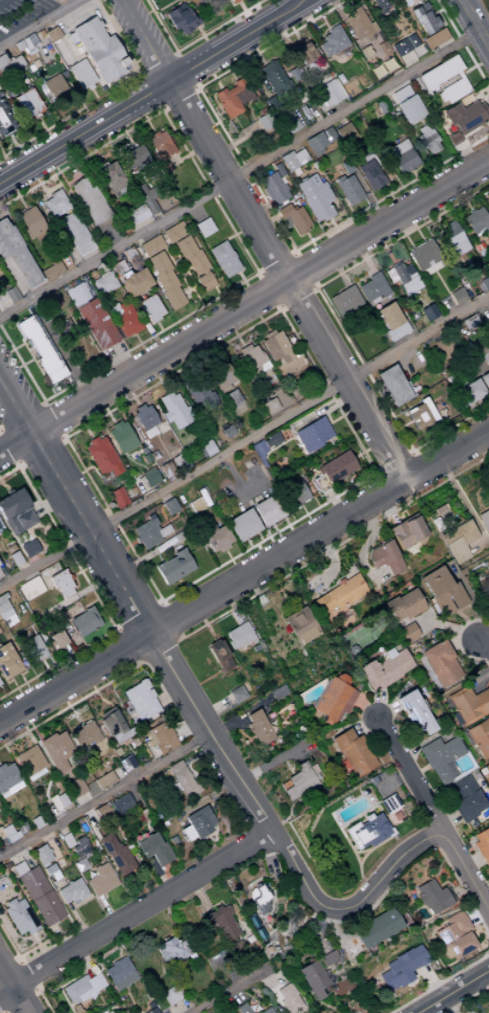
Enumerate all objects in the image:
building: (57, 0)
building: (232, 1)
road: (463, 1)
road: (4, 2)
road: (236, 2)
building: (407, 2)
building: (380, 3)
road: (486, 3)
road: (488, 3)
building: (423, 7)
road: (335, 9)
parking lot: (19, 12)
building: (179, 19)
building: (423, 19)
road: (287, 22)
road: (323, 22)
building: (358, 22)
road: (41, 23)
road: (309, 23)
road: (474, 24)
road: (199, 31)
road: (281, 33)
building: (51, 34)
road: (295, 35)
building: (434, 39)
road: (143, 40)
road: (236, 40)
road: (192, 41)
building: (332, 41)
building: (28, 42)
road: (462, 45)
building: (17, 46)
building: (407, 50)
building: (99, 51)
building: (302, 51)
road: (175, 52)
road: (259, 59)
road: (155, 63)
road: (481, 63)
building: (9, 65)
road: (208, 69)
road: (467, 69)
building: (14, 73)
building: (79, 74)
building: (293, 74)
building: (273, 77)
building: (445, 79)
road: (20, 83)
road: (216, 83)
building: (88, 87)
building: (51, 89)
road: (148, 92)
building: (0, 94)
road: (93, 94)
building: (401, 94)
building: (327, 95)
building: (231, 97)
road: (178, 98)
road: (78, 99)
building: (27, 104)
road: (487, 106)
building: (381, 107)
building: (409, 109)
road: (140, 111)
building: (465, 116)
road: (221, 119)
building: (6, 121)
building: (264, 121)
building: (290, 123)
road: (148, 126)
road: (207, 127)
road: (83, 131)
building: (327, 133)
building: (344, 133)
road: (466, 135)
building: (428, 139)
road: (12, 141)
road: (235, 142)
building: (315, 144)
road: (89, 145)
building: (158, 145)
road: (461, 152)
road: (187, 154)
building: (402, 156)
building: (133, 158)
building: (293, 159)
road: (434, 159)
road: (52, 163)
building: (163, 168)
building: (346, 168)
building: (278, 169)
road: (244, 170)
building: (371, 174)
road: (413, 174)
road: (443, 174)
road: (33, 175)
building: (109, 176)
road: (61, 178)
building: (338, 179)
road: (12, 187)
building: (273, 188)
road: (421, 188)
road: (386, 189)
building: (349, 190)
road: (43, 191)
road: (259, 192)
building: (315, 198)
building: (145, 199)
building: (87, 200)
road: (437, 202)
road: (21, 203)
building: (54, 203)
road: (394, 203)
road: (467, 205)
road: (430, 207)
road: (349, 209)
road: (373, 209)
road: (423, 211)
building: (135, 215)
building: (294, 218)
road: (410, 219)
road: (331, 222)
road: (439, 222)
building: (477, 222)
road: (264, 223)
road: (399, 225)
building: (33, 227)
building: (204, 227)
road: (244, 230)
building: (174, 232)
building: (75, 233)
road: (419, 234)
road: (109, 235)
road: (308, 236)
road: (339, 236)
road: (378, 238)
building: (453, 238)
road: (163, 240)
road: (408, 241)
building: (151, 246)
building: (482, 253)
building: (129, 254)
road: (247, 255)
building: (423, 255)
building: (16, 256)
road: (234, 256)
road: (363, 256)
road: (389, 256)
road: (73, 259)
building: (223, 259)
road: (319, 260)
building: (194, 262)
road: (276, 262)
road: (182, 265)
road: (97, 268)
building: (431, 268)
building: (117, 269)
road: (176, 269)
road: (305, 269)
building: (51, 270)
road: (337, 270)
building: (390, 275)
road: (81, 276)
road: (15, 279)
building: (405, 279)
building: (165, 280)
road: (287, 280)
building: (133, 282)
building: (485, 282)
building: (103, 283)
building: (373, 289)
road: (397, 289)
road: (445, 289)
road: (216, 290)
road: (249, 291)
road: (268, 291)
building: (79, 292)
building: (414, 293)
building: (11, 294)
building: (457, 296)
road: (197, 298)
road: (298, 299)
building: (51, 301)
building: (345, 301)
road: (486, 302)
road: (4, 306)
building: (151, 308)
road: (448, 308)
road: (279, 310)
road: (255, 311)
building: (428, 312)
building: (388, 316)
building: (124, 318)
road: (335, 321)
building: (470, 322)
building: (97, 323)
road: (158, 326)
road: (230, 326)
road: (264, 326)
road: (150, 331)
building: (397, 331)
building: (268, 334)
road: (137, 339)
road: (239, 341)
building: (37, 344)
road: (18, 346)
building: (277, 348)
building: (243, 349)
road: (6, 352)
road: (145, 352)
road: (29, 354)
building: (486, 358)
building: (252, 361)
road: (69, 366)
road: (135, 370)
road: (11, 371)
road: (155, 371)
building: (53, 375)
building: (219, 375)
building: (485, 380)
building: (393, 386)
road: (483, 386)
road: (164, 387)
road: (127, 388)
building: (224, 389)
road: (51, 390)
building: (469, 393)
building: (199, 394)
road: (383, 396)
building: (232, 399)
road: (135, 401)
road: (386, 401)
road: (76, 405)
building: (270, 406)
building: (238, 409)
building: (174, 410)
road: (320, 410)
road: (351, 410)
road: (324, 412)
road: (21, 415)
building: (421, 415)
road: (79, 417)
building: (144, 417)
road: (54, 419)
road: (328, 420)
road: (334, 420)
road: (245, 421)
road: (405, 425)
building: (226, 431)
building: (149, 432)
road: (88, 433)
building: (312, 435)
building: (121, 437)
building: (273, 439)
road: (295, 440)
road: (244, 441)
road: (15, 443)
building: (266, 443)
road: (372, 446)
building: (207, 448)
road: (274, 448)
building: (258, 449)
road: (8, 452)
road: (41, 453)
road: (480, 454)
building: (100, 455)
road: (357, 455)
road: (351, 457)
building: (180, 462)
road: (393, 462)
building: (335, 467)
road: (88, 468)
building: (166, 470)
road: (233, 474)
road: (72, 478)
building: (149, 478)
building: (319, 484)
road: (4, 487)
road: (241, 495)
building: (293, 495)
building: (118, 498)
road: (49, 503)
road: (334, 504)
building: (169, 506)
building: (197, 506)
building: (268, 509)
road: (303, 510)
building: (16, 512)
road: (285, 521)
building: (484, 521)
road: (311, 524)
building: (242, 525)
building: (1, 528)
road: (273, 528)
building: (163, 531)
road: (318, 532)
building: (407, 532)
building: (146, 533)
building: (204, 534)
road: (293, 535)
road: (258, 537)
building: (217, 540)
building: (457, 541)
road: (282, 542)
road: (247, 543)
road: (131, 544)
road: (274, 546)
building: (30, 548)
road: (4, 553)
road: (116, 553)
road: (149, 554)
road: (261, 554)
road: (227, 555)
building: (15, 557)
building: (384, 558)
road: (90, 564)
building: (174, 567)
road: (22, 569)
road: (74, 574)
building: (45, 576)
building: (61, 584)
building: (486, 584)
building: (31, 588)
building: (442, 592)
road: (10, 596)
road: (94, 596)
building: (338, 596)
road: (73, 597)
road: (89, 604)
building: (402, 606)
building: (4, 607)
road: (137, 615)
building: (86, 621)
building: (300, 626)
road: (94, 629)
building: (406, 633)
building: (238, 636)
building: (42, 638)
building: (59, 639)
road: (482, 645)
building: (33, 649)
road: (160, 656)
building: (219, 657)
road: (50, 661)
road: (66, 663)
building: (440, 664)
building: (9, 666)
road: (21, 668)
building: (384, 669)
road: (58, 675)
road: (73, 677)
road: (7, 682)
building: (0, 683)
road: (28, 692)
building: (236, 694)
road: (20, 697)
building: (333, 699)
building: (140, 701)
building: (469, 704)
building: (413, 713)
road: (1, 718)
building: (114, 727)
building: (257, 728)
building: (159, 737)
building: (480, 737)
building: (87, 738)
building: (56, 752)
building: (352, 754)
building: (440, 759)
building: (29, 763)
building: (181, 779)
building: (8, 780)
building: (104, 780)
building: (300, 781)
building: (75, 788)
road: (105, 794)
building: (465, 799)
building: (57, 801)
building: (121, 804)
building: (387, 804)
building: (100, 814)
road: (431, 814)
building: (197, 823)
building: (7, 832)
building: (366, 832)
building: (482, 844)
building: (79, 848)
building: (153, 849)
building: (114, 851)
building: (41, 854)
road: (391, 874)
building: (100, 880)
building: (71, 893)
building: (38, 894)
building: (432, 897)
building: (260, 901)
road: (137, 914)
building: (18, 917)
building: (220, 925)
building: (375, 929)
building: (454, 936)
building: (171, 950)
building: (401, 968)
building: (119, 974)
building: (311, 979)
road: (13, 989)
building: (82, 989)
road: (233, 991)
road: (456, 993)
building: (170, 996)
building: (288, 999)
building: (242, 1009)
building: (151, 1011)
building: (266, 1011)
building: (108, 1012)

